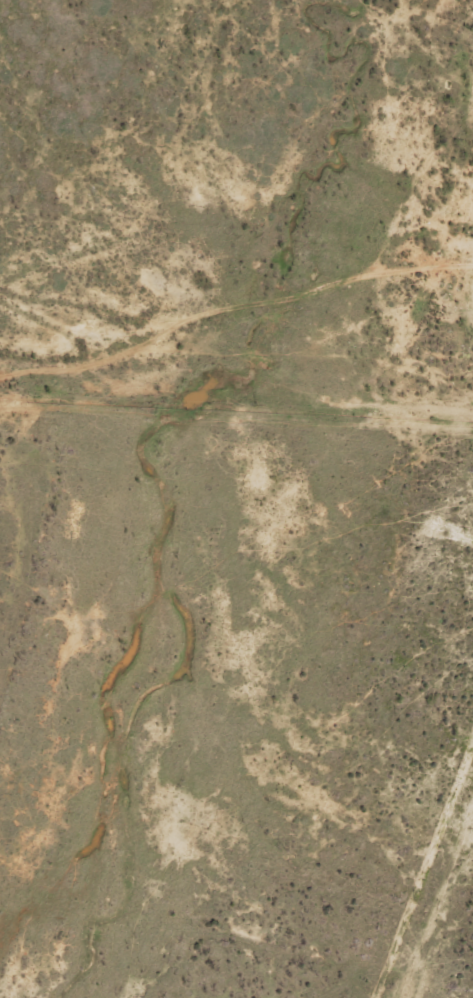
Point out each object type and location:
road: (234, 394)
road: (435, 956)

